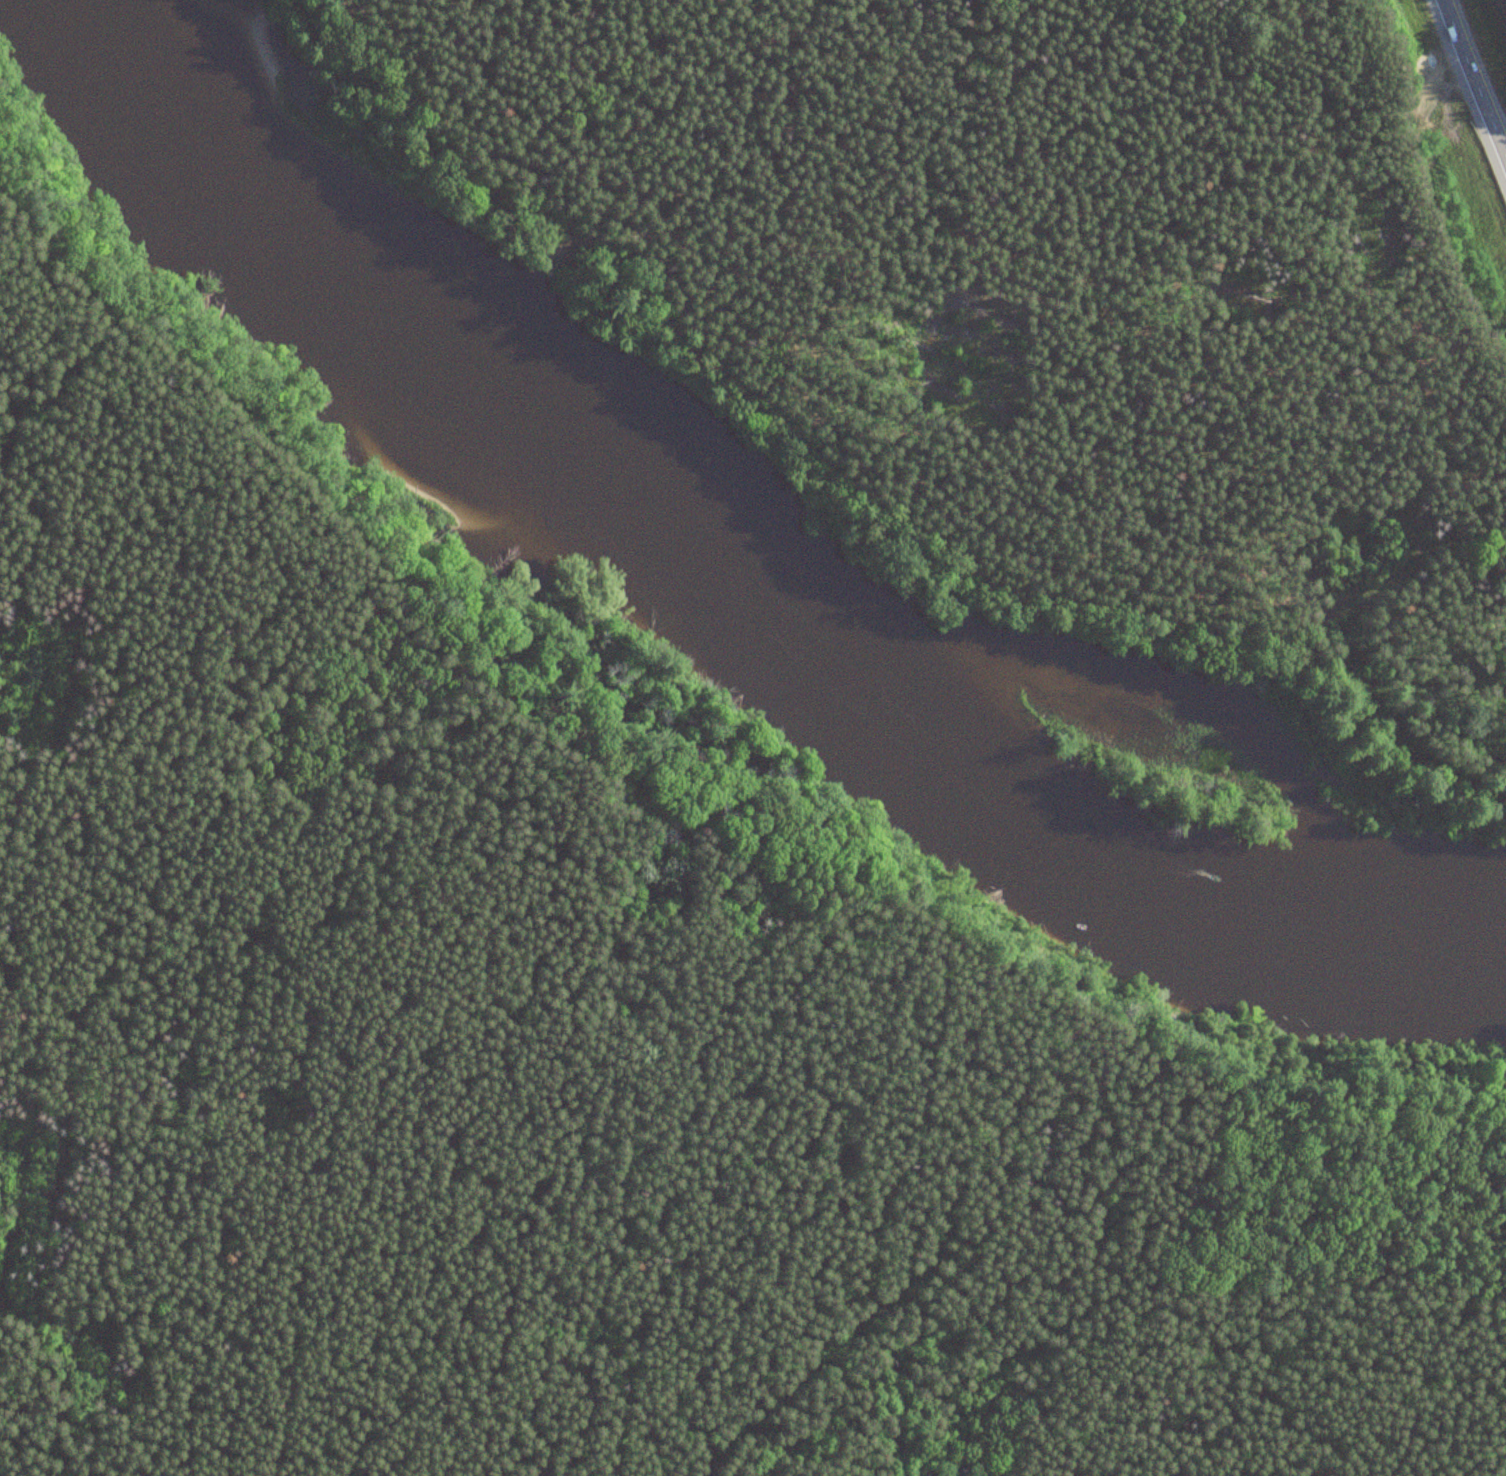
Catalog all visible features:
road: (1471, 83)
river: (739, 580)
road: (536, 775)

